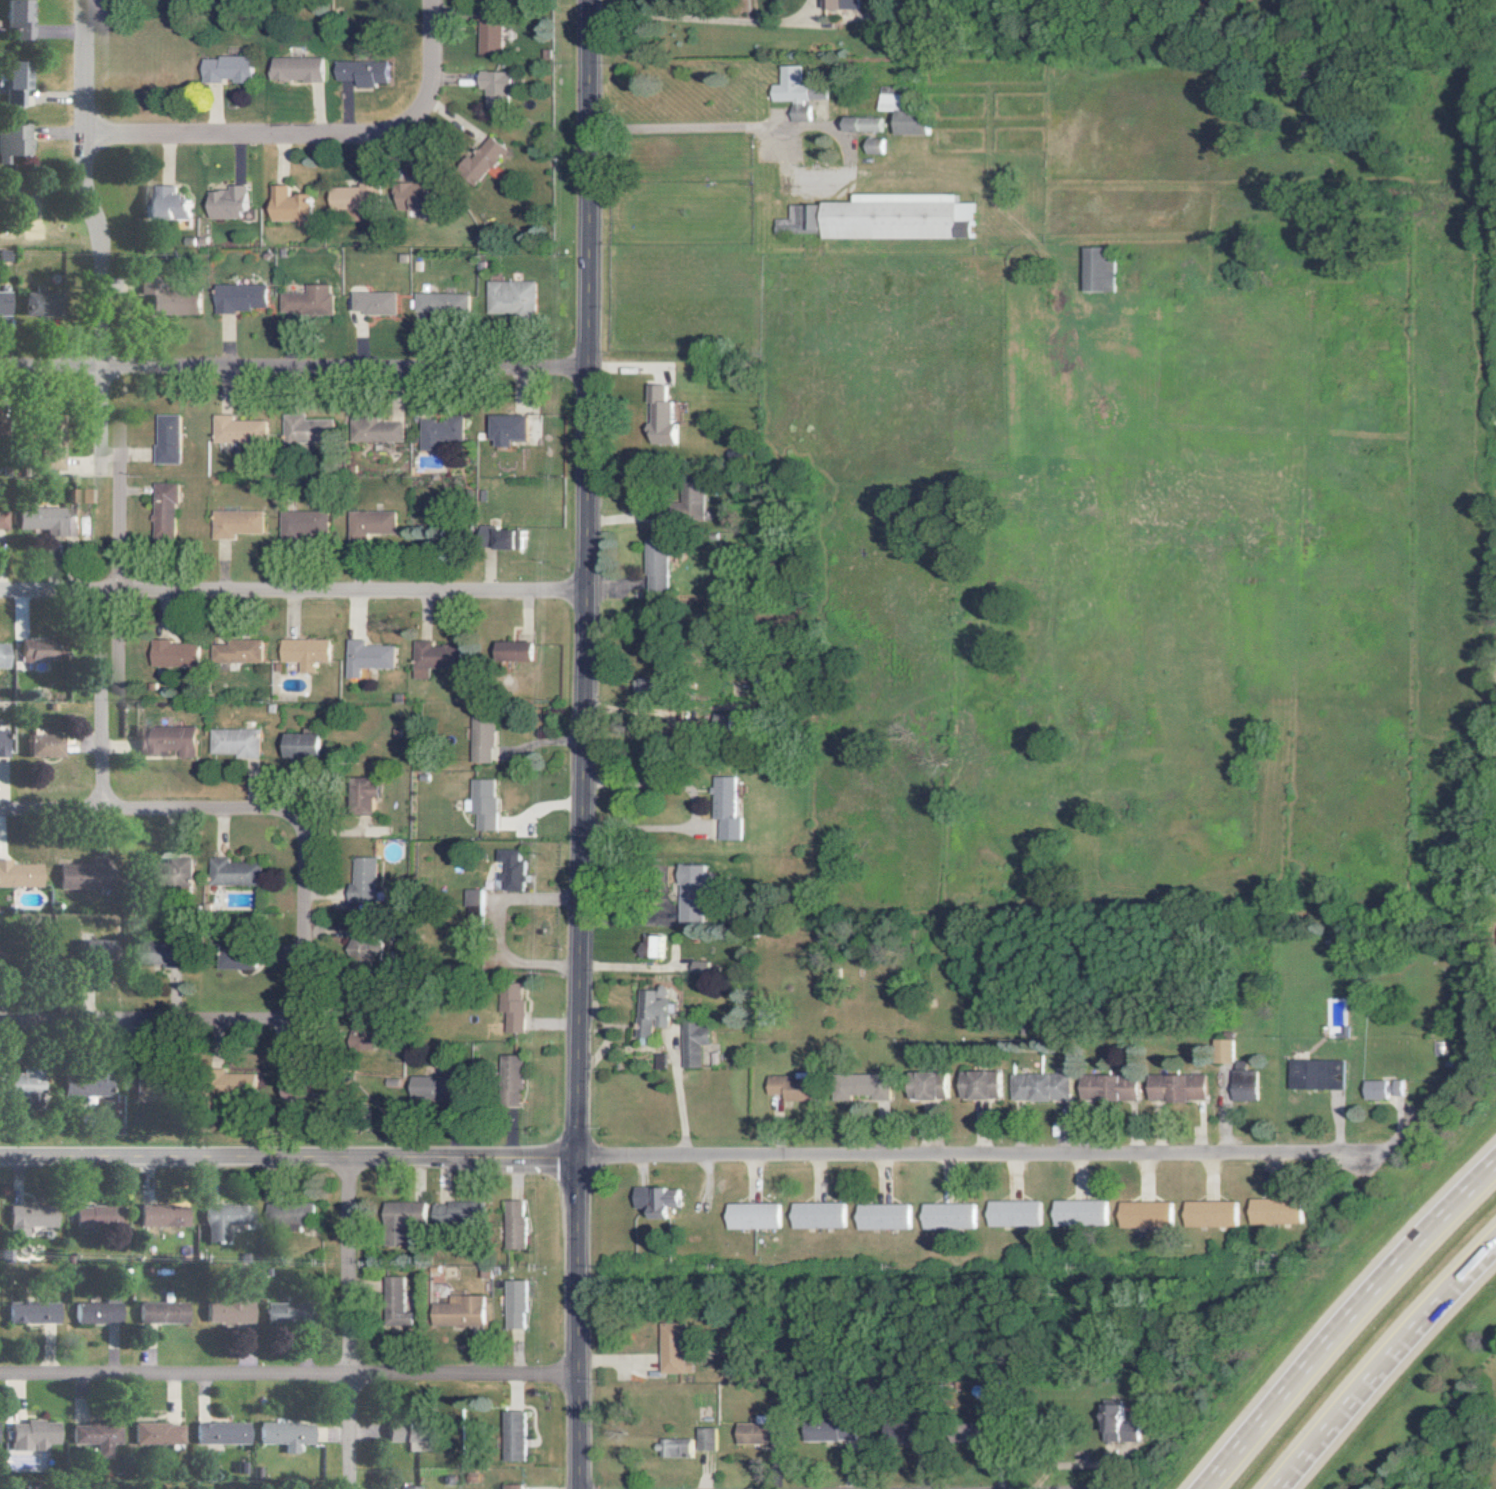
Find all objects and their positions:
building: (828, 4)
building: (25, 17)
road: (694, 17)
building: (486, 32)
road: (428, 60)
building: (223, 69)
building: (292, 69)
building: (358, 71)
building: (23, 80)
building: (790, 92)
building: (899, 115)
building: (857, 124)
road: (697, 129)
building: (19, 140)
road: (260, 140)
building: (868, 145)
building: (481, 157)
building: (409, 193)
building: (349, 196)
building: (222, 202)
building: (165, 203)
building: (284, 205)
building: (894, 217)
building: (1094, 269)
building: (170, 296)
building: (234, 297)
building: (505, 297)
building: (301, 300)
building: (8, 302)
building: (47, 302)
building: (367, 302)
building: (434, 304)
road: (289, 371)
road: (115, 404)
building: (655, 416)
building: (501, 429)
building: (230, 430)
building: (298, 430)
building: (367, 430)
building: (1, 431)
building: (432, 432)
building: (159, 439)
building: (61, 442)
building: (684, 504)
building: (157, 510)
building: (7, 519)
building: (50, 519)
building: (228, 523)
building: (362, 523)
building: (295, 524)
building: (497, 539)
building: (651, 564)
road: (289, 594)
building: (45, 650)
building: (232, 651)
building: (508, 651)
building: (299, 652)
building: (168, 654)
building: (7, 655)
building: (361, 657)
building: (427, 658)
building: (169, 741)
building: (6, 742)
building: (230, 742)
building: (478, 742)
building: (50, 744)
road: (576, 744)
building: (299, 745)
building: (479, 803)
road: (689, 804)
building: (723, 808)
road: (146, 812)
building: (508, 869)
building: (231, 873)
building: (21, 874)
building: (172, 874)
building: (75, 876)
building: (361, 880)
road: (300, 916)
road: (487, 927)
building: (363, 944)
building: (652, 946)
building: (101, 948)
building: (163, 955)
building: (245, 959)
building: (699, 967)
building: (511, 1008)
building: (651, 1011)
road: (148, 1019)
building: (693, 1042)
building: (1225, 1050)
building: (659, 1061)
building: (1307, 1074)
building: (513, 1078)
building: (244, 1082)
building: (87, 1084)
building: (152, 1085)
building: (981, 1085)
building: (1244, 1085)
building: (21, 1086)
building: (436, 1086)
building: (863, 1086)
building: (929, 1086)
building: (793, 1087)
building: (1040, 1087)
building: (1108, 1087)
building: (1178, 1087)
building: (1382, 1088)
road: (693, 1157)
building: (656, 1201)
building: (408, 1211)
building: (482, 1211)
building: (1275, 1211)
building: (1078, 1212)
building: (293, 1213)
building: (455, 1213)
building: (1013, 1213)
building: (1209, 1213)
building: (1143, 1214)
building: (162, 1215)
building: (753, 1215)
building: (818, 1215)
building: (96, 1216)
building: (883, 1216)
building: (948, 1216)
building: (28, 1218)
building: (223, 1219)
building: (517, 1224)
building: (398, 1302)
building: (517, 1304)
building: (228, 1311)
building: (461, 1311)
building: (32, 1312)
building: (96, 1312)
building: (161, 1312)
building: (284, 1313)
road: (1346, 1322)
road: (349, 1323)
building: (673, 1349)
road: (1385, 1364)
road: (289, 1375)
building: (1118, 1423)
building: (829, 1429)
building: (221, 1432)
building: (158, 1433)
building: (411, 1433)
building: (759, 1433)
building: (285, 1434)
road: (1043, 1434)
building: (33, 1435)
building: (514, 1436)
building: (96, 1437)
building: (705, 1439)
building: (673, 1447)
building: (512, 1486)
building: (410, 1487)

